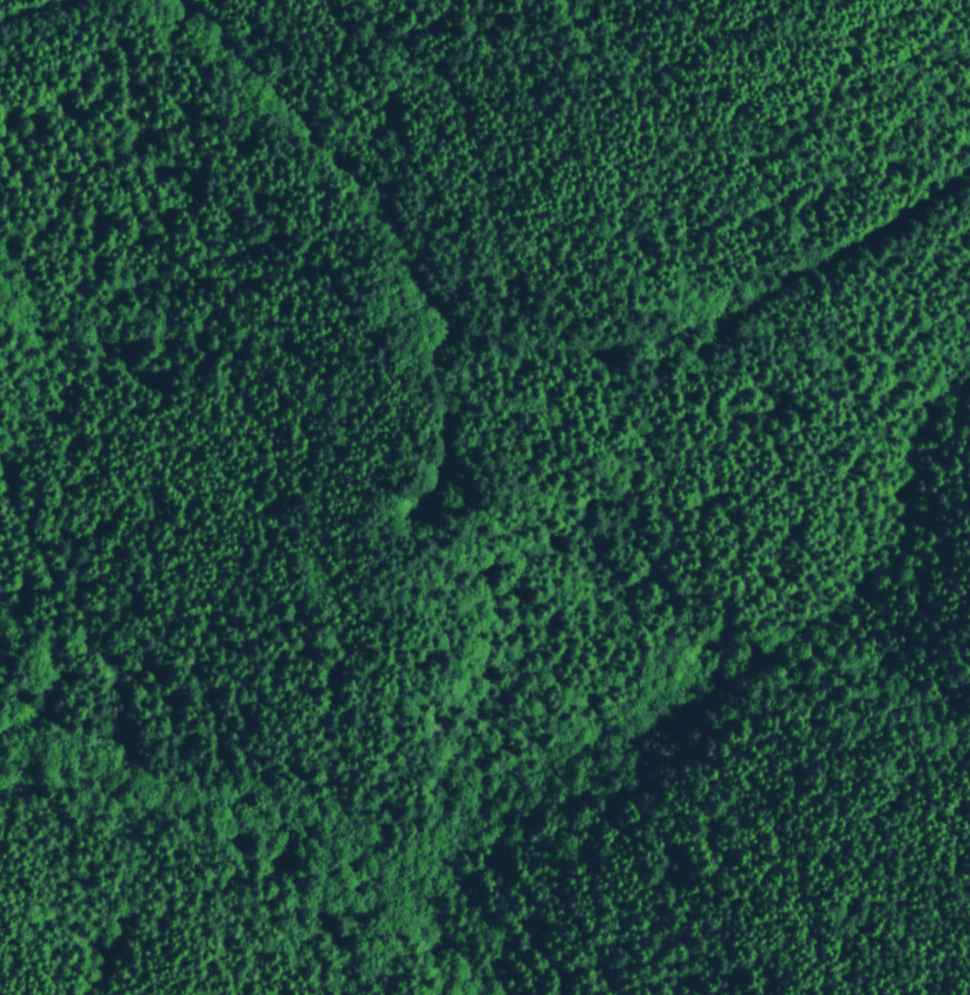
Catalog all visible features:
road: (38, 6)
road: (517, 346)

